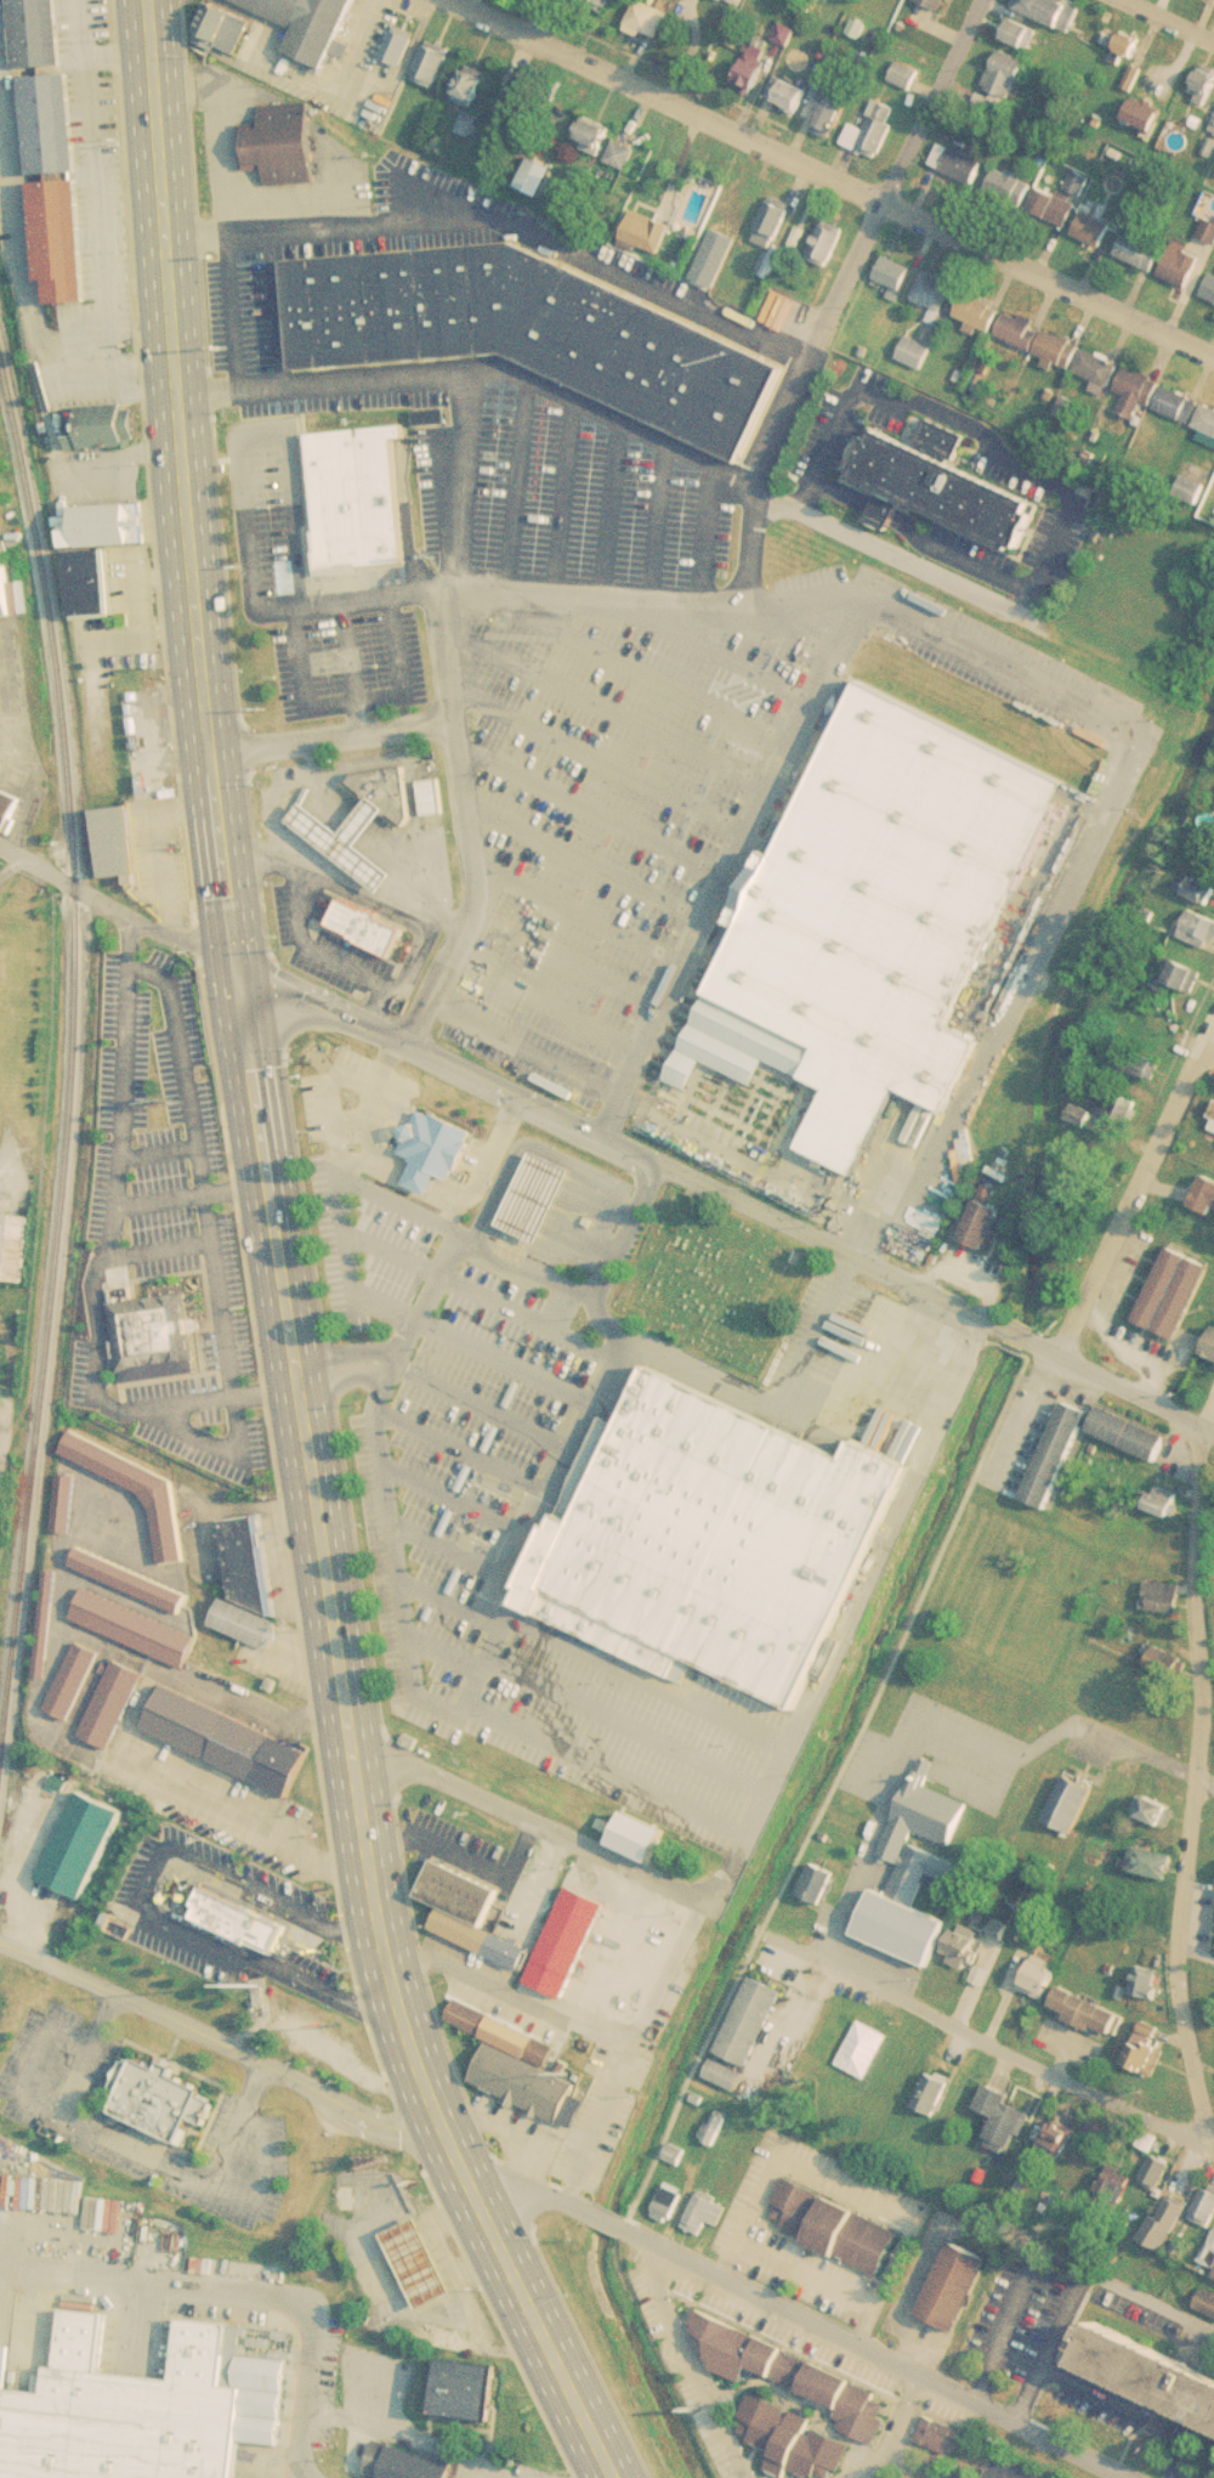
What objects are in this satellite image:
building: (742, 1)
building: (594, 4)
building: (937, 4)
building: (1046, 9)
road: (545, 17)
building: (649, 17)
road: (1174, 18)
building: (303, 24)
building: (225, 28)
building: (1020, 32)
building: (32, 33)
building: (1129, 44)
building: (398, 46)
building: (432, 62)
building: (750, 73)
building: (907, 75)
road: (303, 83)
building: (471, 83)
building: (1005, 84)
building: (1203, 84)
building: (788, 94)
building: (833, 113)
building: (1145, 115)
building: (44, 125)
building: (1213, 128)
building: (875, 130)
building: (1179, 134)
building: (592, 135)
building: (623, 154)
building: (958, 163)
road: (836, 176)
parking lot: (93, 187)
building: (1011, 187)
building: (739, 202)
parking lot: (16, 203)
building: (1057, 208)
building: (772, 224)
building: (1093, 228)
building: (646, 232)
building: (55, 241)
building: (829, 241)
building: (1142, 251)
building: (1184, 264)
building: (897, 275)
parking lot: (668, 282)
road: (839, 290)
building: (1210, 290)
building: (936, 292)
building: (980, 312)
building: (520, 315)
building: (1040, 339)
building: (1099, 369)
parking lot: (342, 370)
building: (1139, 390)
building: (1175, 402)
building: (1207, 420)
road: (972, 425)
building: (101, 430)
building: (930, 466)
parking lot: (1032, 469)
road: (177, 473)
parking lot: (562, 474)
building: (353, 485)
building: (1192, 488)
building: (110, 525)
road: (917, 539)
road: (890, 556)
parking lot: (310, 564)
building: (92, 583)
road: (867, 583)
building: (6, 590)
road: (331, 736)
parking lot: (653, 774)
building: (435, 797)
building: (353, 807)
building: (8, 809)
building: (118, 842)
road: (113, 907)
building: (864, 907)
building: (356, 915)
parking lot: (314, 928)
building: (1199, 929)
traffic signals: (233, 945)
building: (1184, 977)
road: (1209, 1056)
road: (473, 1064)
railway: (70, 1067)
building: (1121, 1107)
building: (421, 1120)
building: (1212, 1125)
road: (157, 1153)
road: (200, 1167)
building: (529, 1182)
gas station: (529, 1182)
parking lot: (353, 1186)
road: (1134, 1186)
building: (1206, 1195)
road: (189, 1196)
building: (981, 1224)
building: (15, 1246)
road: (158, 1251)
road: (104, 1255)
road: (433, 1260)
park: (707, 1266)
building: (1167, 1291)
road: (957, 1294)
building: (143, 1320)
building: (1210, 1348)
road: (7, 1397)
road: (1204, 1415)
building: (1124, 1435)
road: (219, 1441)
building: (1053, 1454)
building: (137, 1489)
parking lot: (444, 1497)
building: (67, 1504)
building: (703, 1526)
parking lot: (200, 1546)
road: (319, 1550)
building: (239, 1565)
building: (1168, 1595)
building: (135, 1608)
building: (50, 1611)
building: (74, 1680)
road: (802, 1692)
road: (34, 1703)
building: (112, 1704)
building: (217, 1736)
road: (971, 1736)
road: (1106, 1738)
road: (1204, 1780)
road: (1195, 1783)
parking lot: (212, 1788)
building: (1071, 1803)
road: (523, 1804)
road: (872, 1839)
building: (84, 1844)
building: (819, 1882)
building: (915, 1886)
parking lot: (279, 1891)
road: (144, 1901)
building: (225, 1902)
building: (469, 1912)
building: (964, 1950)
road: (1196, 1957)
building: (1040, 1978)
road: (732, 1981)
building: (1148, 1981)
building: (1088, 2010)
building: (751, 2020)
road: (982, 2043)
road: (225, 2044)
building: (1145, 2048)
building: (517, 2063)
building: (727, 2072)
building: (143, 2080)
building: (934, 2092)
building: (1019, 2125)
road: (507, 2129)
road: (136, 2146)
road: (594, 2154)
building: (1158, 2171)
building: (1117, 2183)
building: (670, 2201)
building: (1206, 2207)
building: (705, 2213)
building: (1168, 2219)
building: (835, 2225)
building: (421, 2262)
road: (35, 2268)
building: (1212, 2275)
building: (955, 2285)
road: (271, 2297)
road: (790, 2307)
road: (534, 2310)
road: (1004, 2330)
road: (1045, 2350)
road: (686, 2359)
building: (793, 2372)
building: (450, 2375)
building: (1148, 2376)
road: (1090, 2393)
building: (141, 2395)
road: (898, 2435)
building: (793, 2439)
building: (398, 2455)
parking lot: (938, 2468)
parking lot: (307, 2476)

